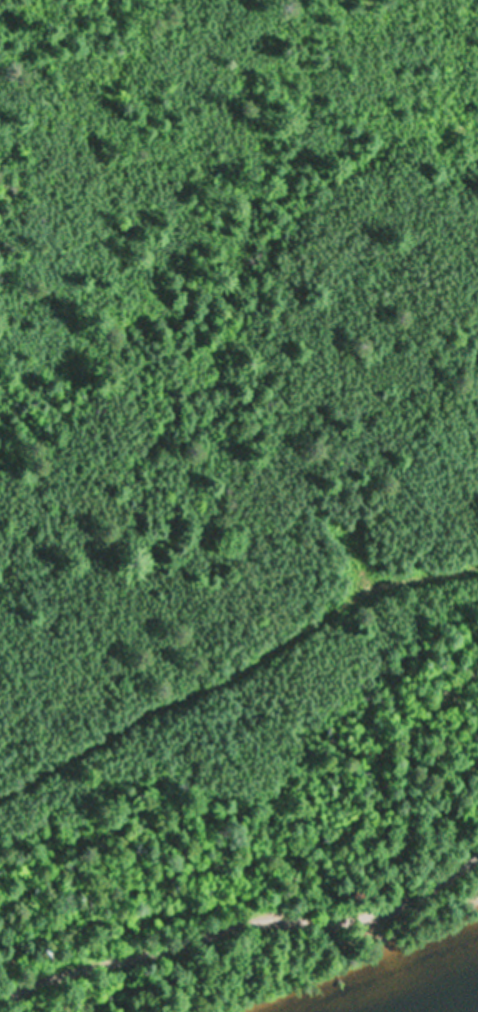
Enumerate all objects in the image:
road: (242, 914)

